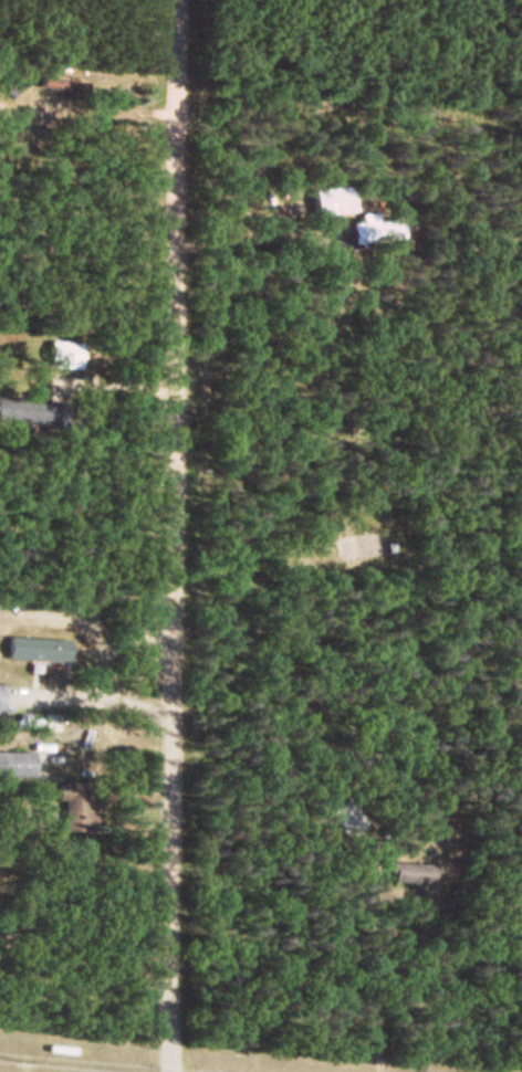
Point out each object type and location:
building: (333, 201)
building: (376, 232)
building: (63, 356)
road: (174, 536)
building: (38, 650)
building: (0, 698)
building: (15, 766)
building: (72, 807)
building: (342, 817)

